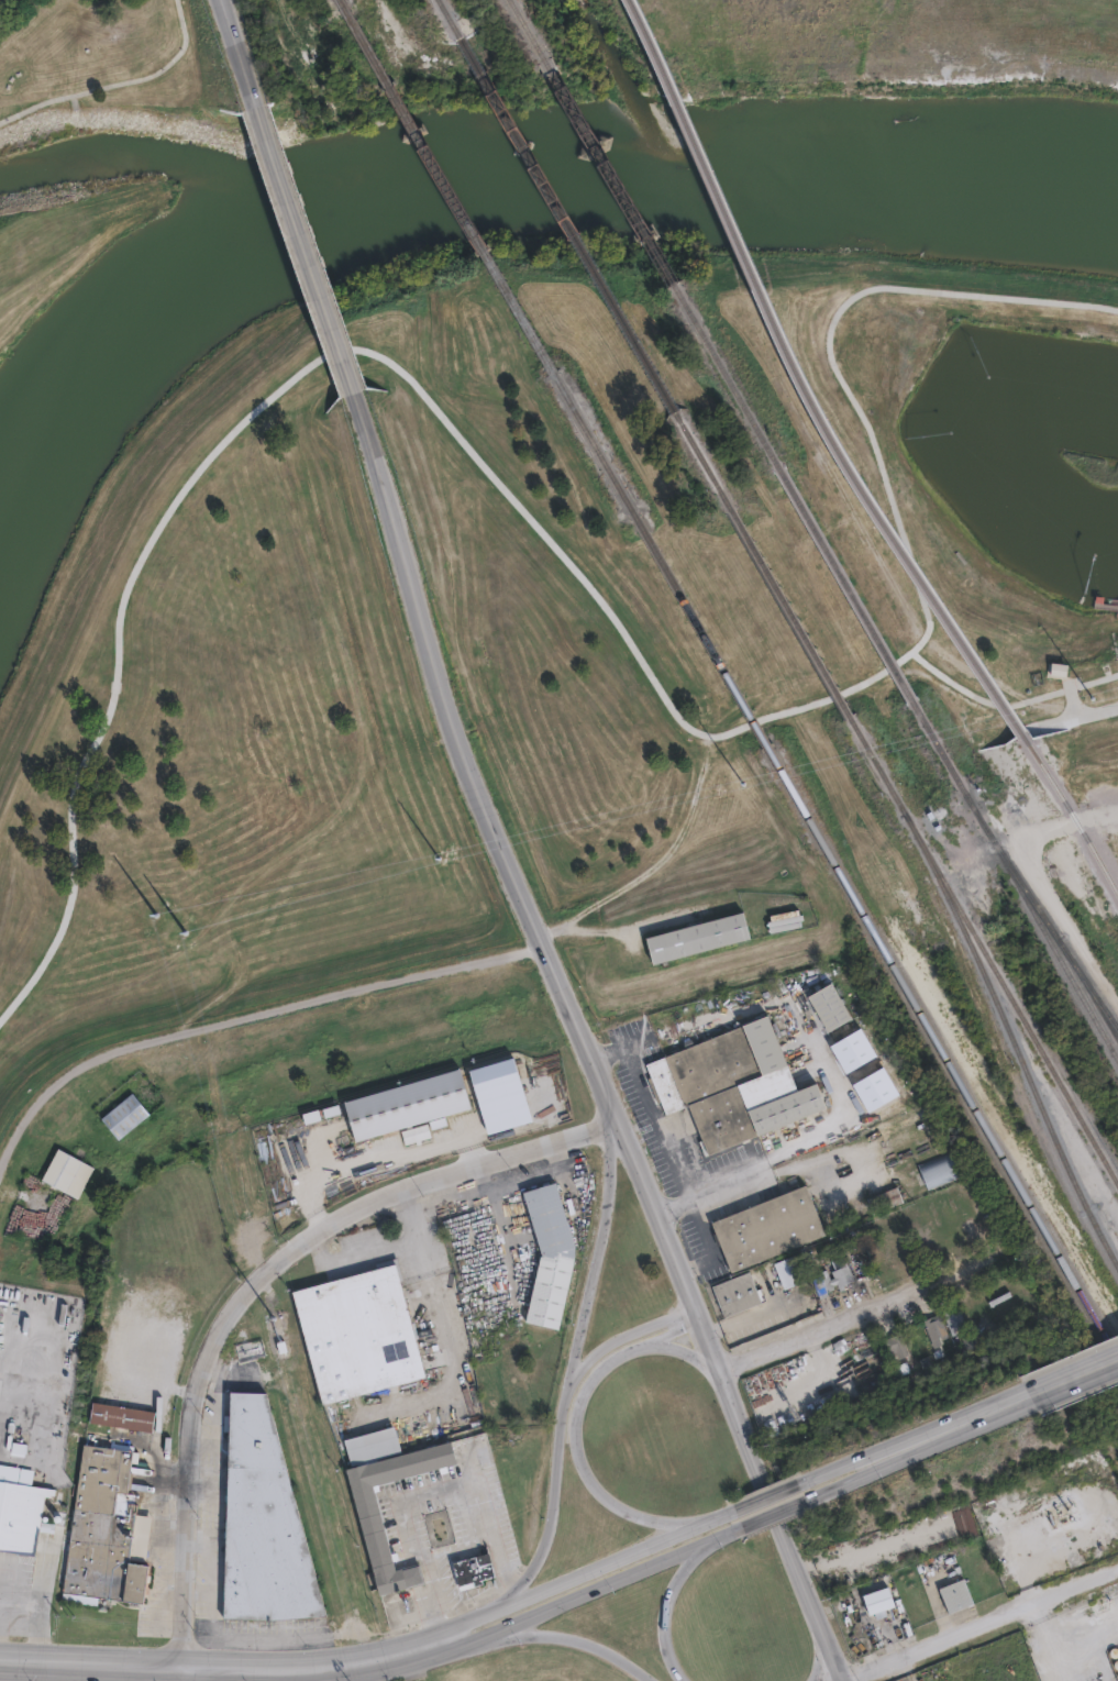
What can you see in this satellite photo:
railway: (449, 20)
railway: (528, 30)
road: (231, 53)
road: (118, 82)
railway: (609, 172)
railway: (445, 186)
river: (501, 190)
railway: (566, 225)
road: (298, 250)
railway: (804, 381)
railway: (742, 402)
railway: (594, 444)
railway: (701, 462)
road: (523, 508)
railway: (790, 615)
road: (119, 621)
railway: (702, 632)
railway: (876, 637)
building: (1056, 672)
parking lot: (1117, 686)
road: (1012, 704)
road: (1074, 704)
road: (1080, 716)
power tower: (986, 723)
railway: (877, 765)
power tower: (719, 788)
road: (1114, 807)
railway: (1072, 815)
power tower: (445, 854)
railway: (1030, 907)
railway: (1044, 921)
power tower: (168, 922)
building: (690, 932)
road: (707, 971)
railway: (1011, 1000)
railway: (1100, 1003)
building: (828, 1006)
railway: (1100, 1009)
road: (247, 1015)
railway: (1010, 1039)
road: (582, 1042)
railway: (943, 1052)
building: (731, 1084)
building: (407, 1103)
road: (651, 1108)
building: (123, 1116)
building: (417, 1132)
road: (368, 1160)
building: (939, 1170)
building: (65, 1173)
road: (713, 1192)
building: (884, 1199)
building: (54, 1207)
building: (767, 1228)
road: (376, 1249)
building: (859, 1257)
building: (550, 1261)
building: (862, 1269)
building: (788, 1272)
building: (832, 1280)
road: (254, 1292)
building: (735, 1294)
road: (857, 1315)
building: (953, 1319)
building: (934, 1328)
power tower: (277, 1329)
building: (357, 1334)
road: (628, 1335)
building: (912, 1335)
building: (894, 1343)
road: (447, 1350)
road: (680, 1352)
building: (903, 1368)
road: (573, 1371)
road: (1074, 1379)
building: (121, 1418)
road: (962, 1426)
road: (576, 1427)
road: (848, 1464)
road: (854, 1480)
road: (425, 1493)
road: (765, 1496)
petroleum well: (1063, 1511)
building: (20, 1514)
road: (773, 1514)
building: (369, 1522)
building: (261, 1523)
building: (102, 1529)
building: (472, 1569)
road: (1117, 1570)
road: (590, 1571)
road: (597, 1590)
building: (954, 1597)
building: (879, 1603)
road: (673, 1605)
road: (33, 1624)
road: (978, 1626)
road: (580, 1640)
road: (231, 1668)
road: (14, 1670)
petroleum well: (1095, 1679)

